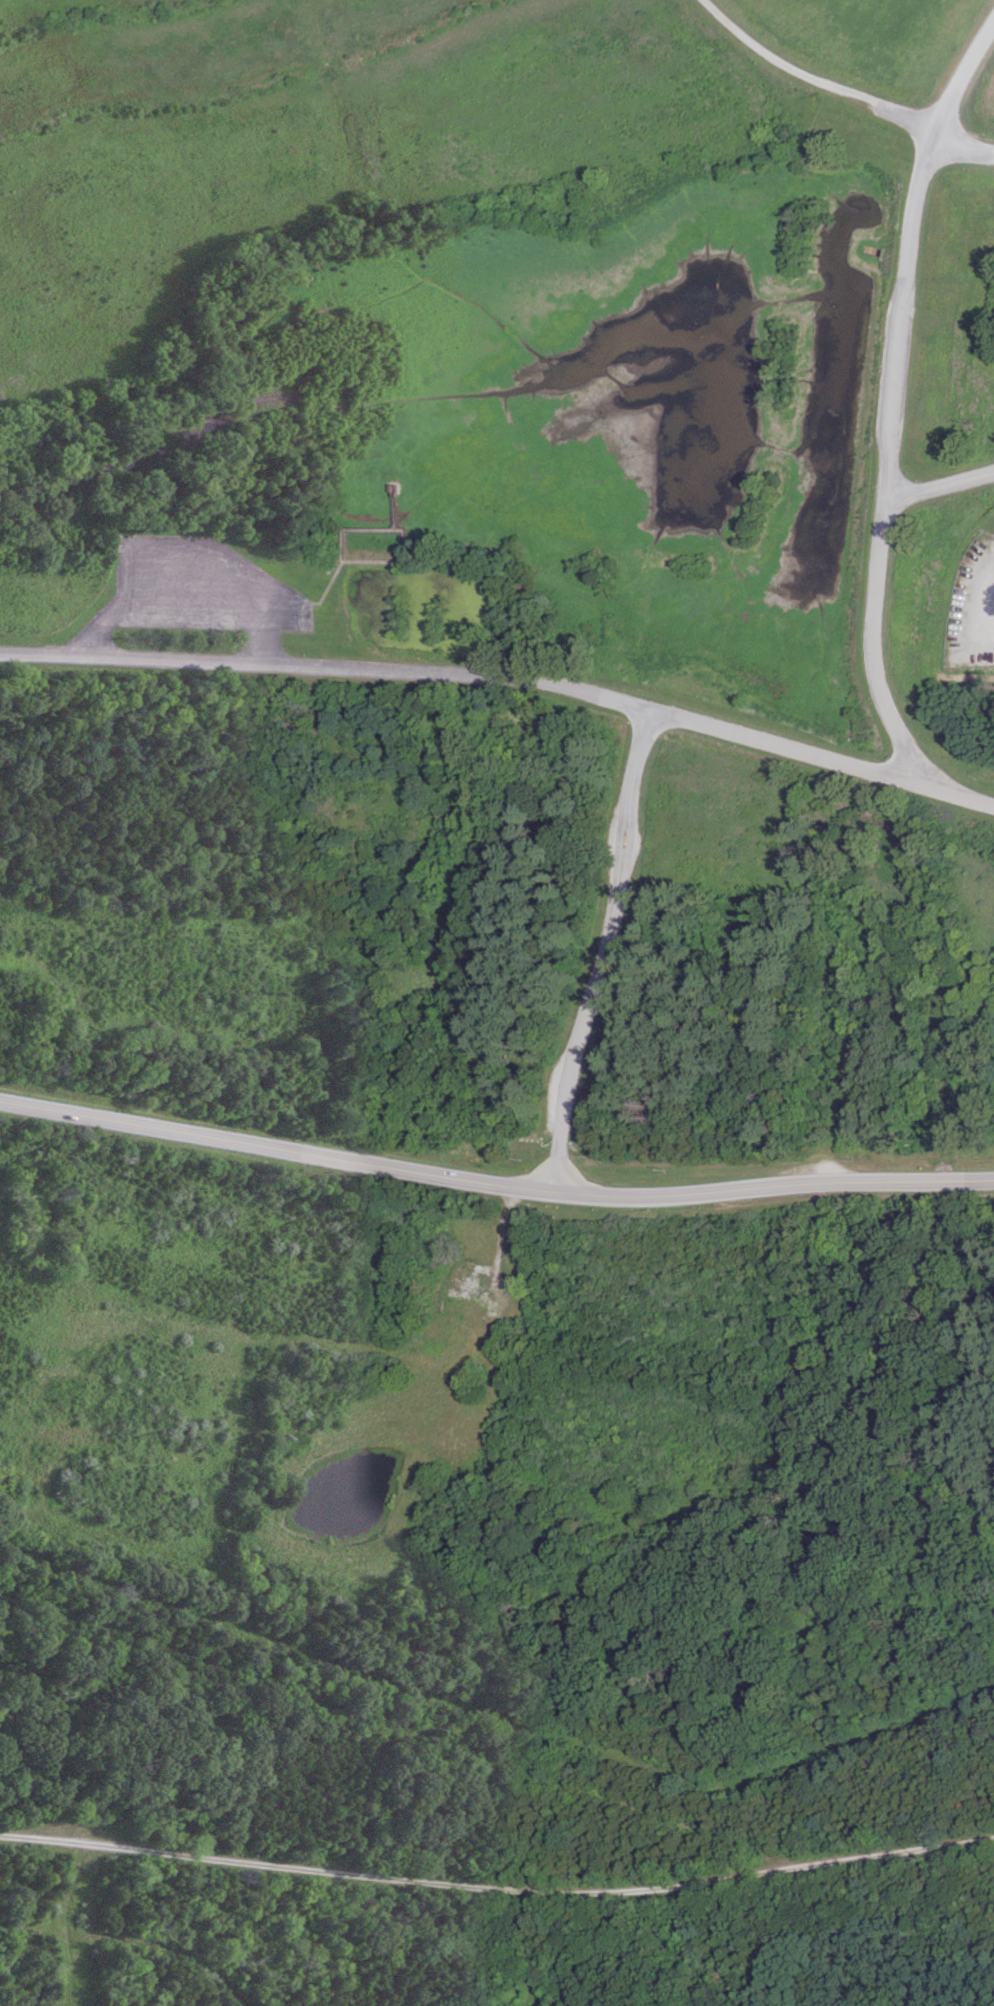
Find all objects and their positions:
road: (961, 71)
road: (812, 78)
road: (964, 144)
road: (903, 311)
road: (940, 483)
pier: (394, 508)
pier: (356, 528)
pier: (386, 559)
dam: (851, 583)
parking lot: (198, 584)
road: (313, 602)
road: (189, 604)
road: (872, 641)
road: (461, 673)
road: (951, 792)
road: (605, 949)
road: (494, 1183)
road: (497, 1715)
road: (497, 1887)
road: (135, 1936)

